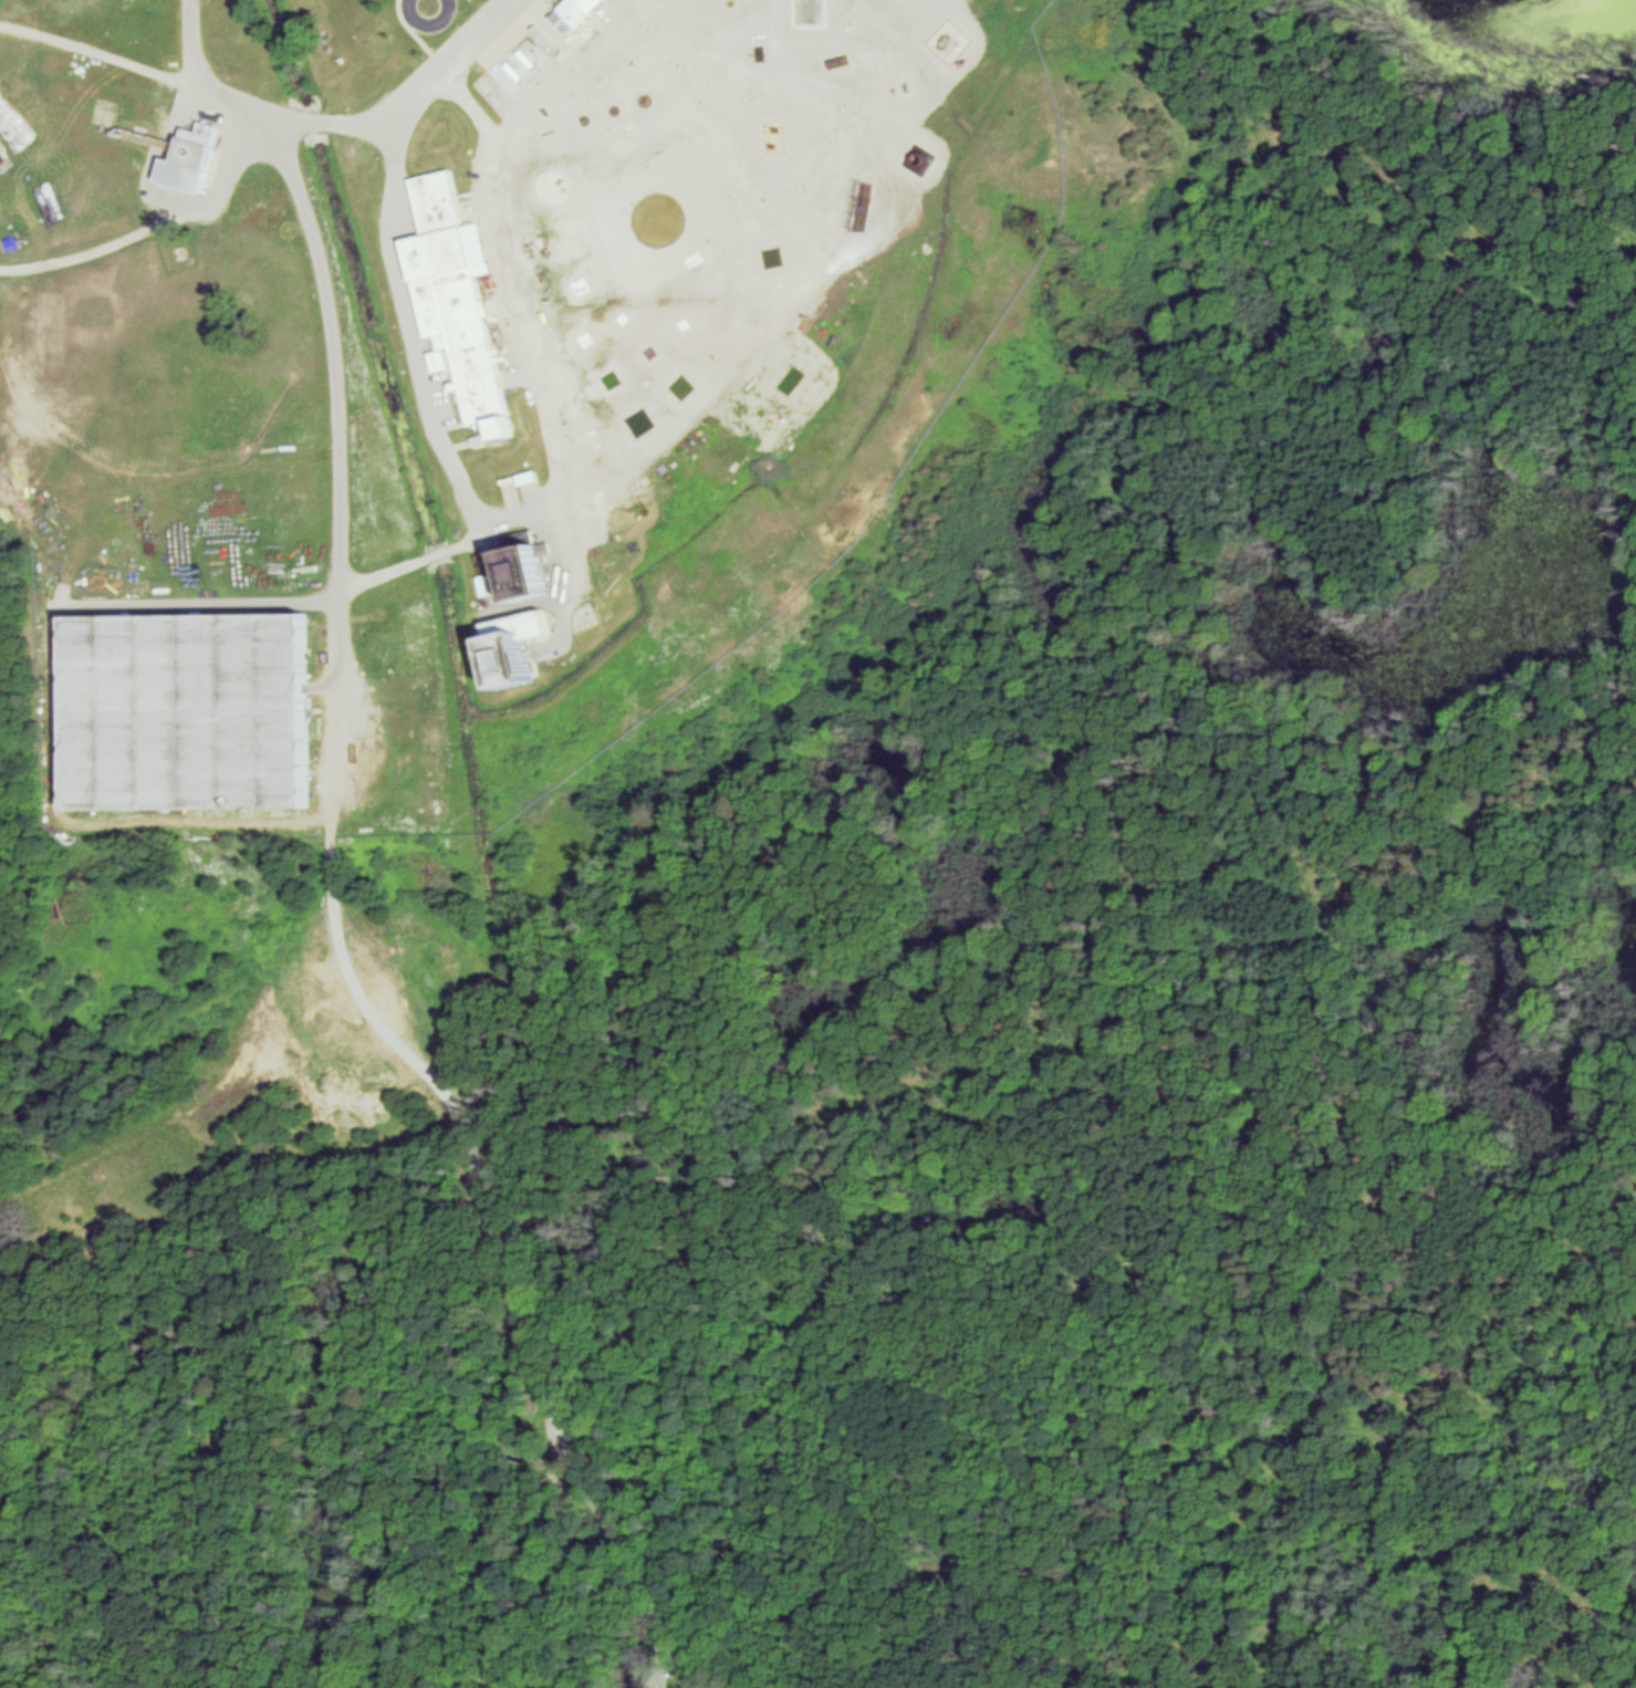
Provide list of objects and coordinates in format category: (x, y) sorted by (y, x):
building: (576, 11)
road: (423, 21)
road: (100, 51)
road: (337, 121)
building: (774, 138)
building: (192, 154)
road: (168, 205)
road: (94, 250)
building: (459, 299)
road: (417, 350)
road: (333, 445)
road: (411, 553)
building: (532, 567)
building: (195, 705)
road: (492, 1227)

